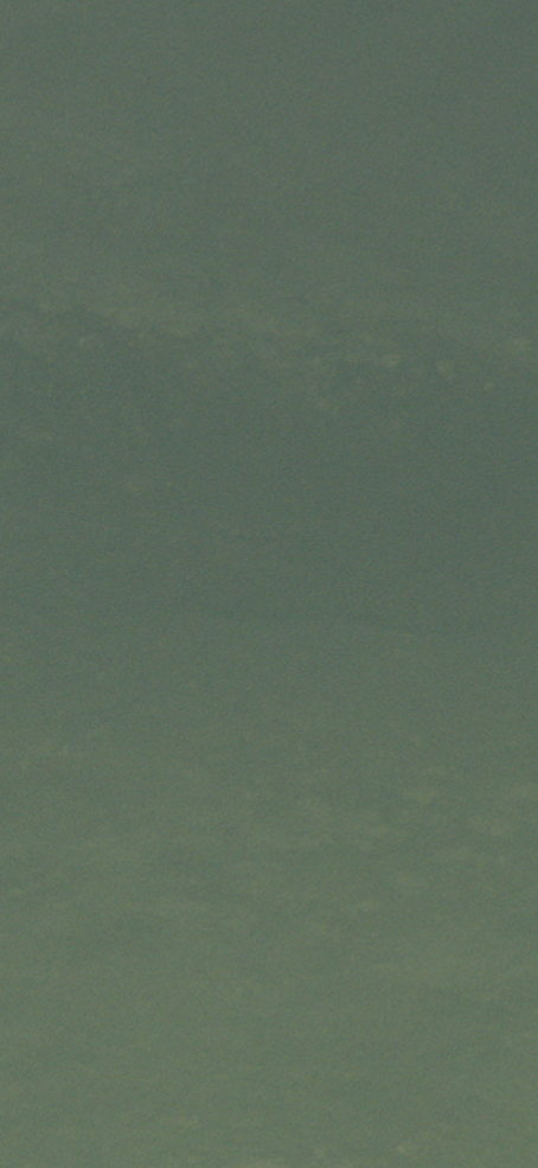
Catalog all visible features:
river: (269, 517)

